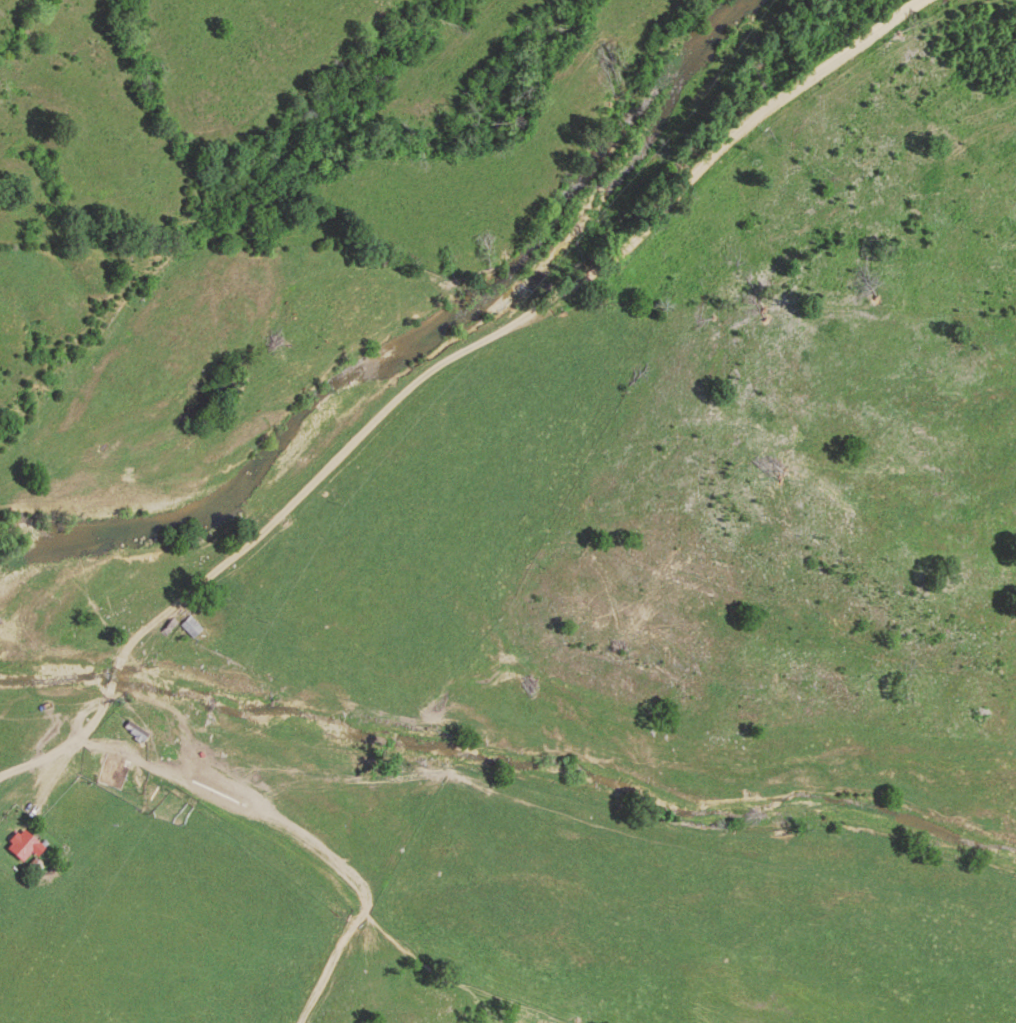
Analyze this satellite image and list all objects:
road: (454, 380)
building: (193, 626)
building: (116, 771)
building: (26, 845)

